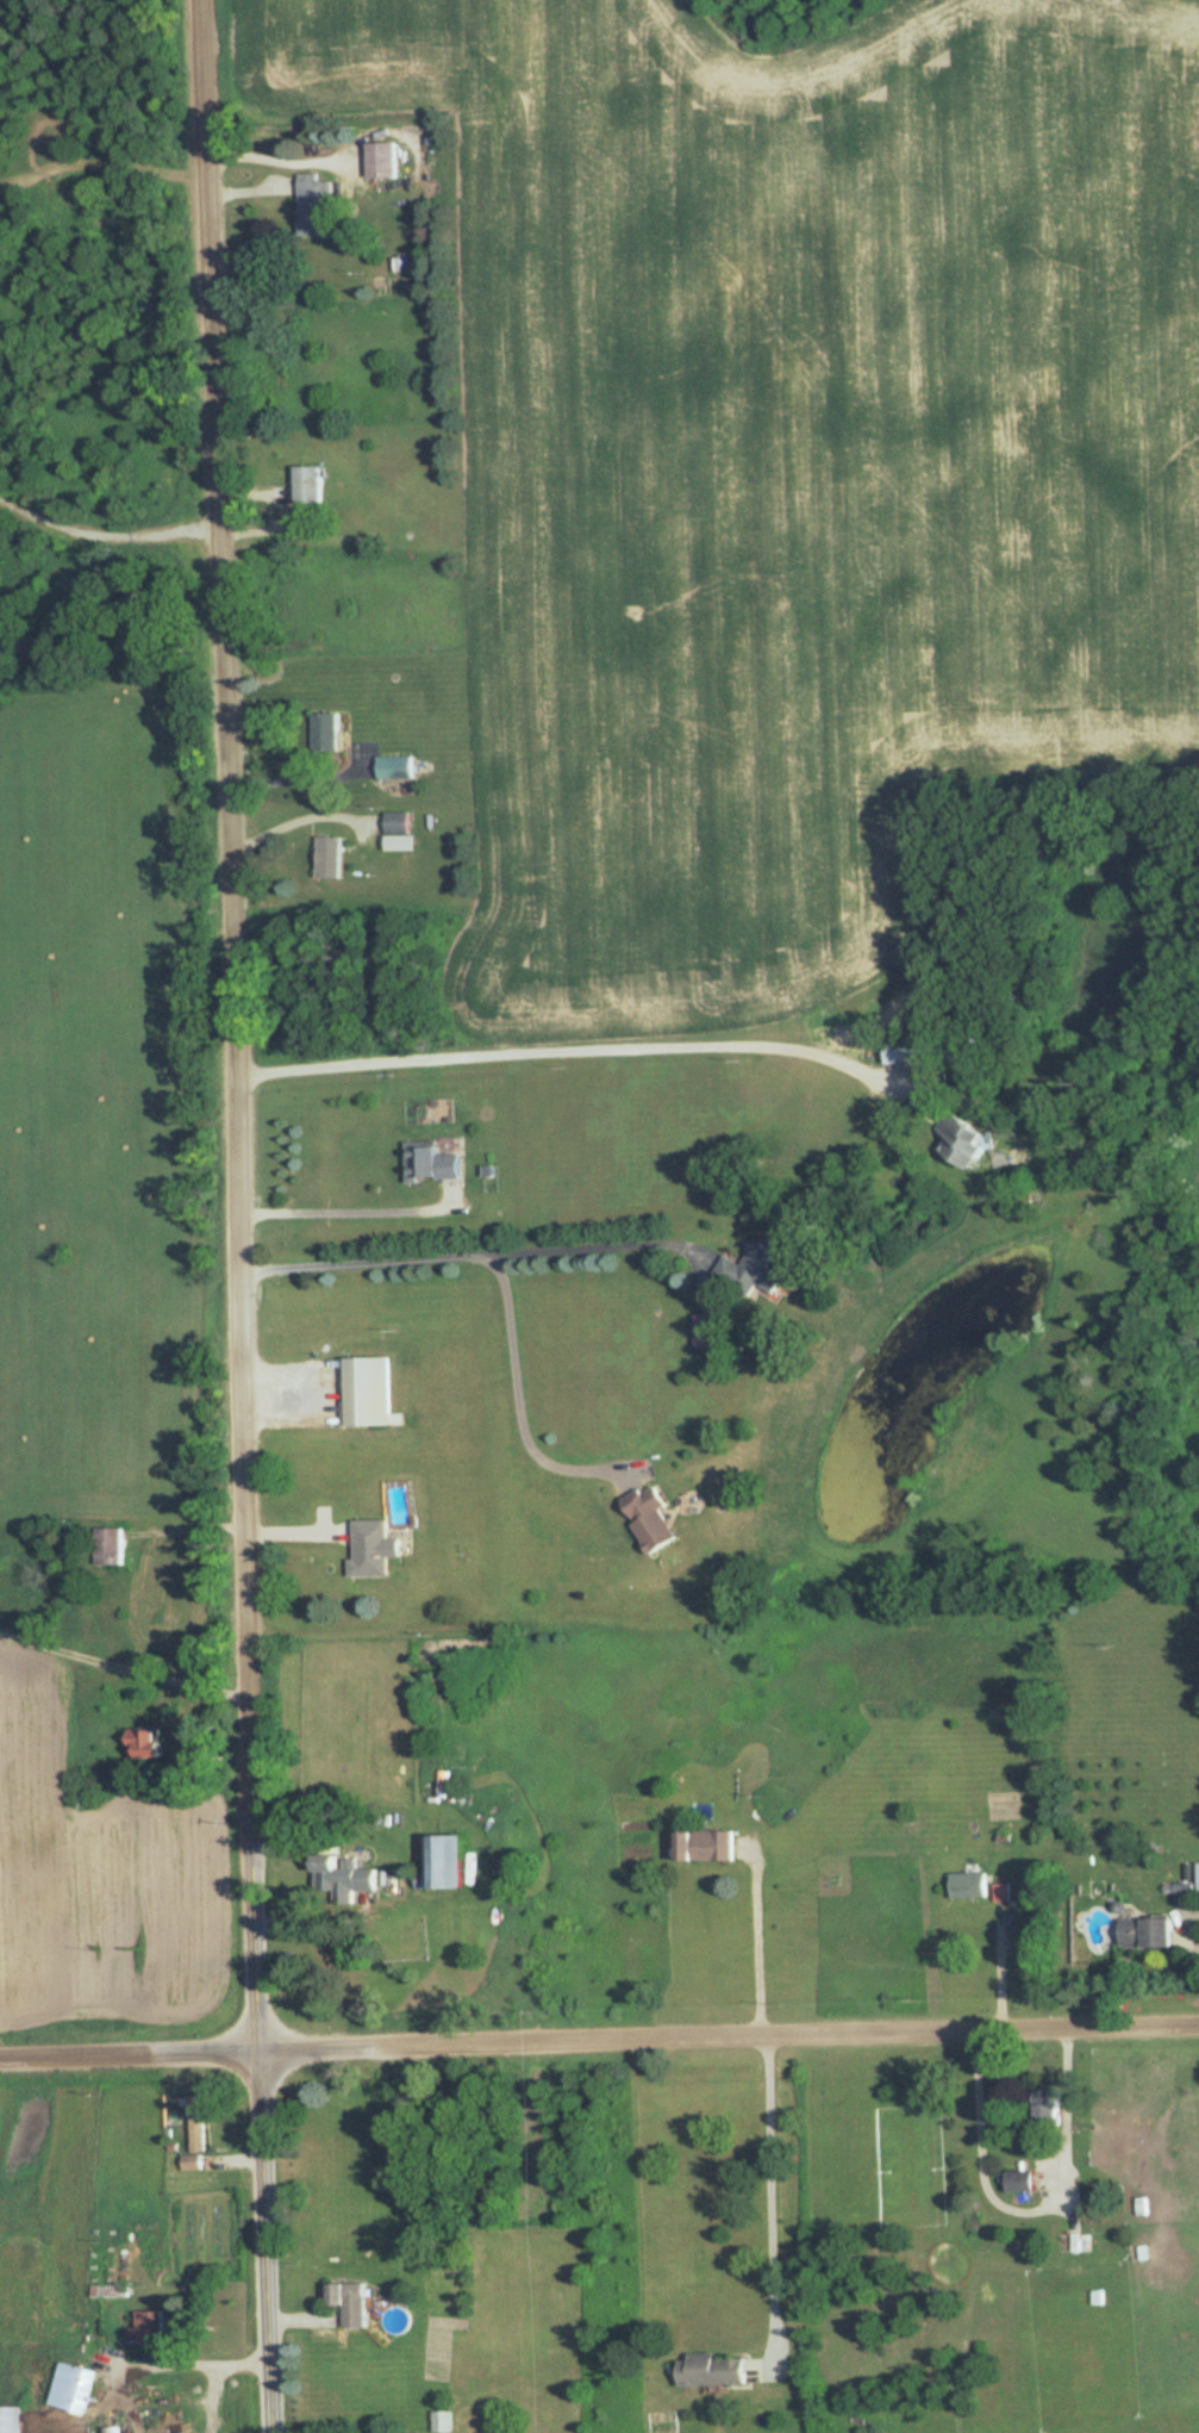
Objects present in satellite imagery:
road: (370, 135)
building: (382, 158)
road: (249, 187)
building: (313, 201)
building: (306, 486)
road: (106, 531)
building: (324, 733)
building: (394, 767)
road: (301, 778)
road: (293, 820)
building: (396, 822)
building: (327, 857)
road: (575, 1047)
building: (900, 1050)
building: (957, 1143)
building: (432, 1162)
road: (343, 1208)
road: (243, 1215)
road: (606, 1244)
road: (373, 1261)
building: (749, 1270)
building: (707, 1331)
building: (367, 1392)
road: (520, 1402)
building: (648, 1518)
building: (108, 1545)
building: (371, 1548)
building: (457, 1560)
building: (139, 1742)
building: (702, 1846)
building: (439, 1861)
building: (341, 1878)
building: (968, 1884)
road: (1187, 1923)
building: (1143, 1931)
road: (757, 1939)
road: (1001, 1970)
road: (599, 2035)
building: (1044, 2107)
building: (196, 2135)
building: (1019, 2177)
road: (772, 2196)
road: (1029, 2210)
building: (1072, 2248)
building: (346, 2302)
building: (148, 2326)
building: (711, 2370)
road: (194, 2384)
building: (71, 2388)
building: (10, 2419)
building: (442, 2421)

